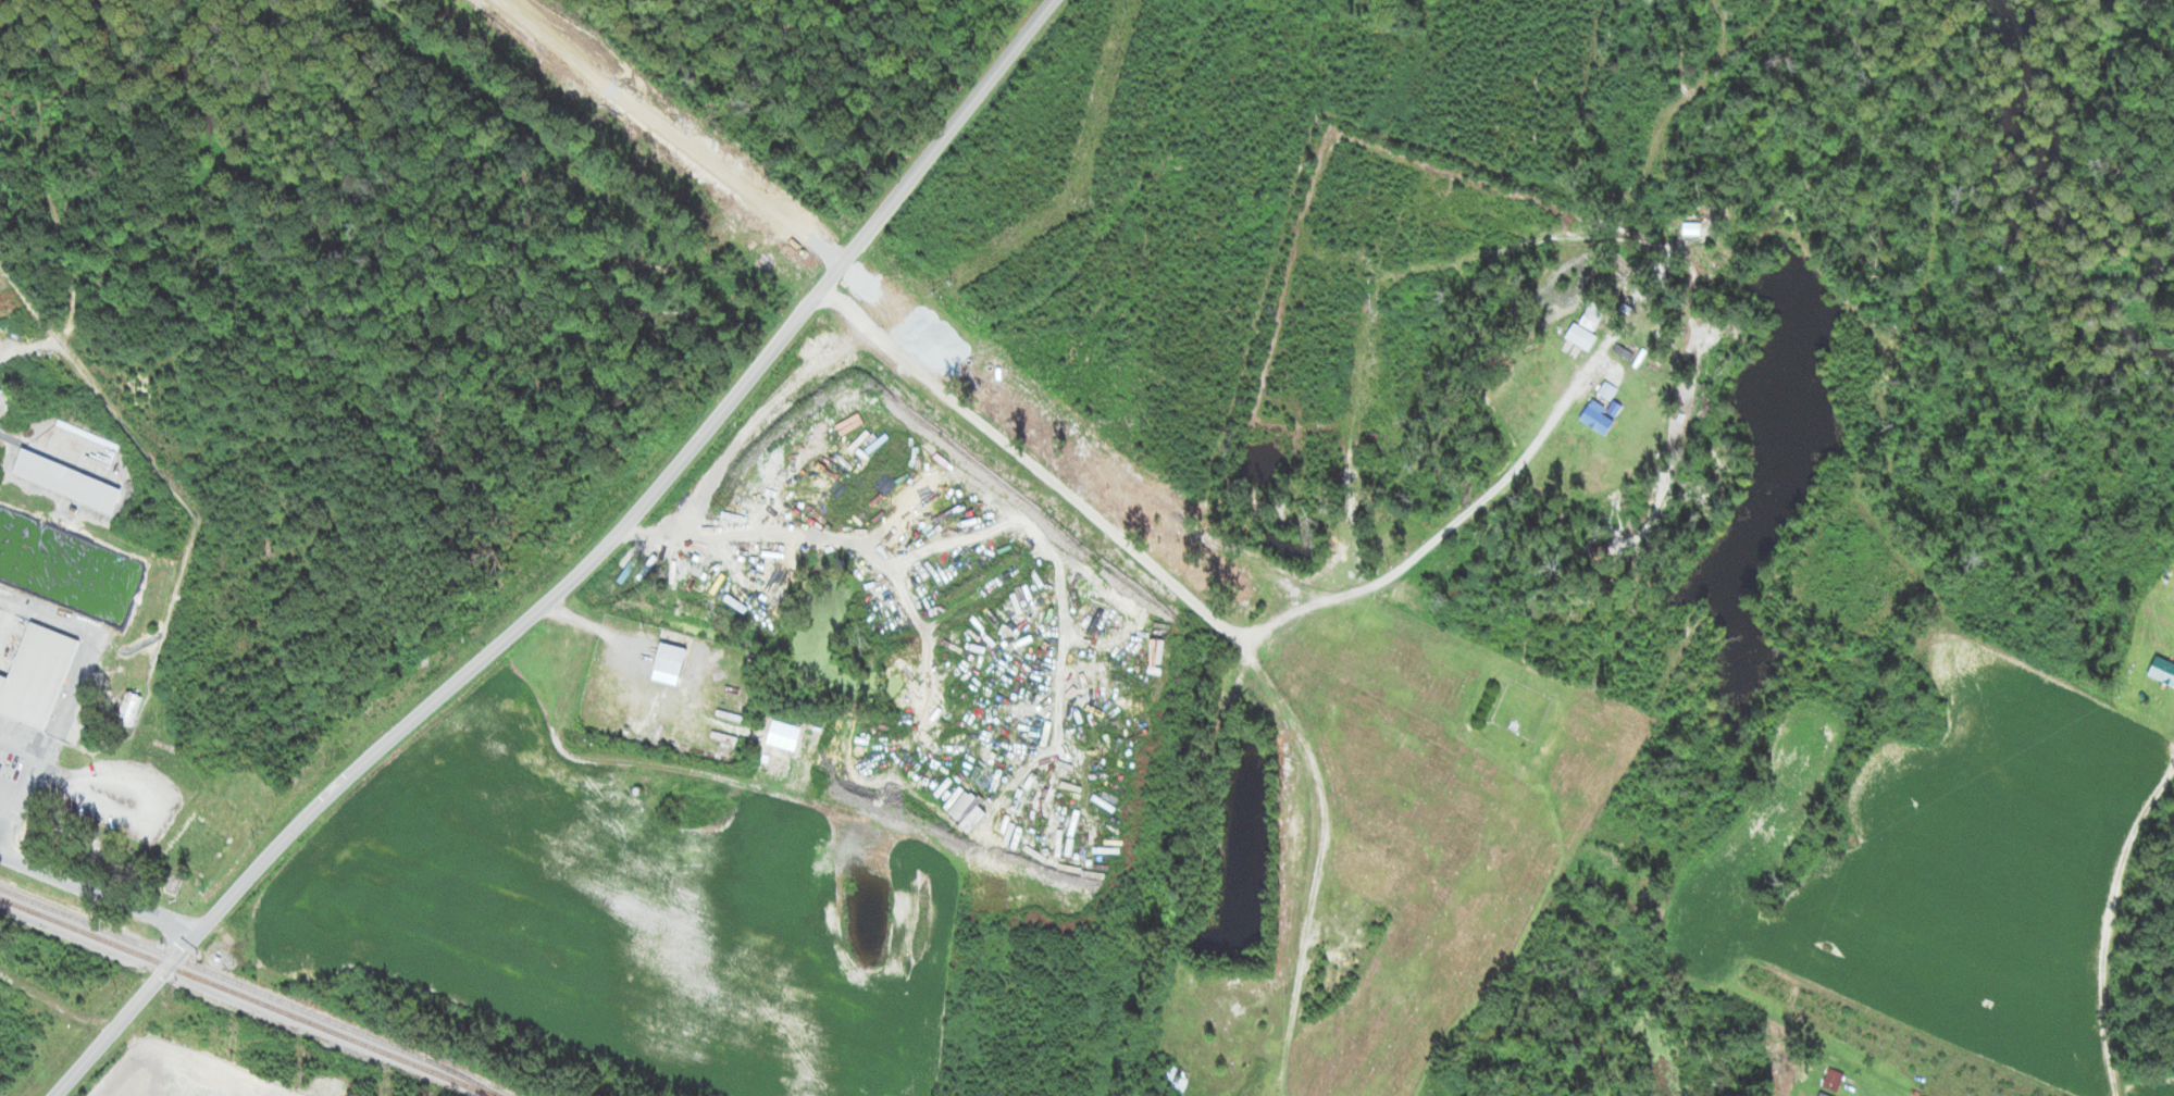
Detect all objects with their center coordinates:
building: (1691, 227)
building: (1592, 315)
building: (0, 390)
building: (1597, 418)
building: (66, 483)
building: (1600, 558)
road: (576, 569)
building: (670, 660)
building: (2162, 672)
building: (36, 675)
building: (128, 708)
building: (1221, 714)
railway: (246, 997)
building: (1232, 1059)
building: (1177, 1079)
building: (1834, 1080)

